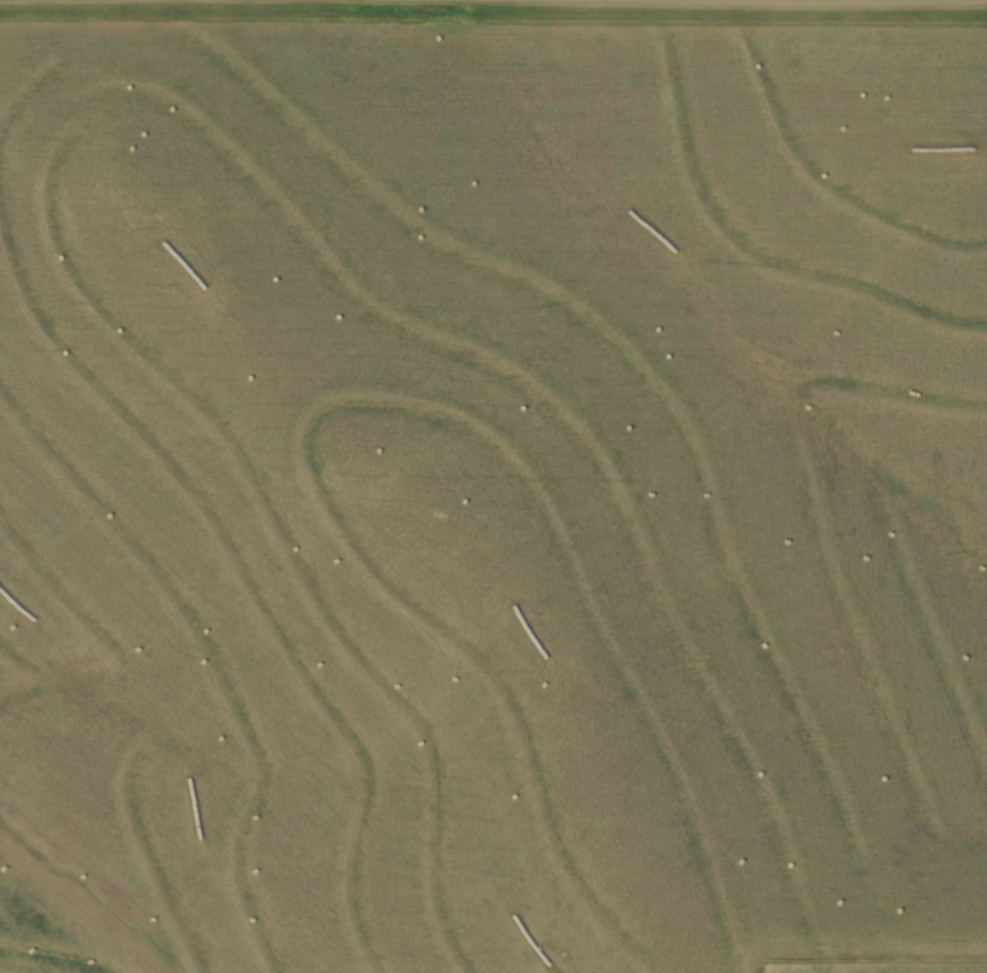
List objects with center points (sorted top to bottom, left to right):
road: (836, 2)

